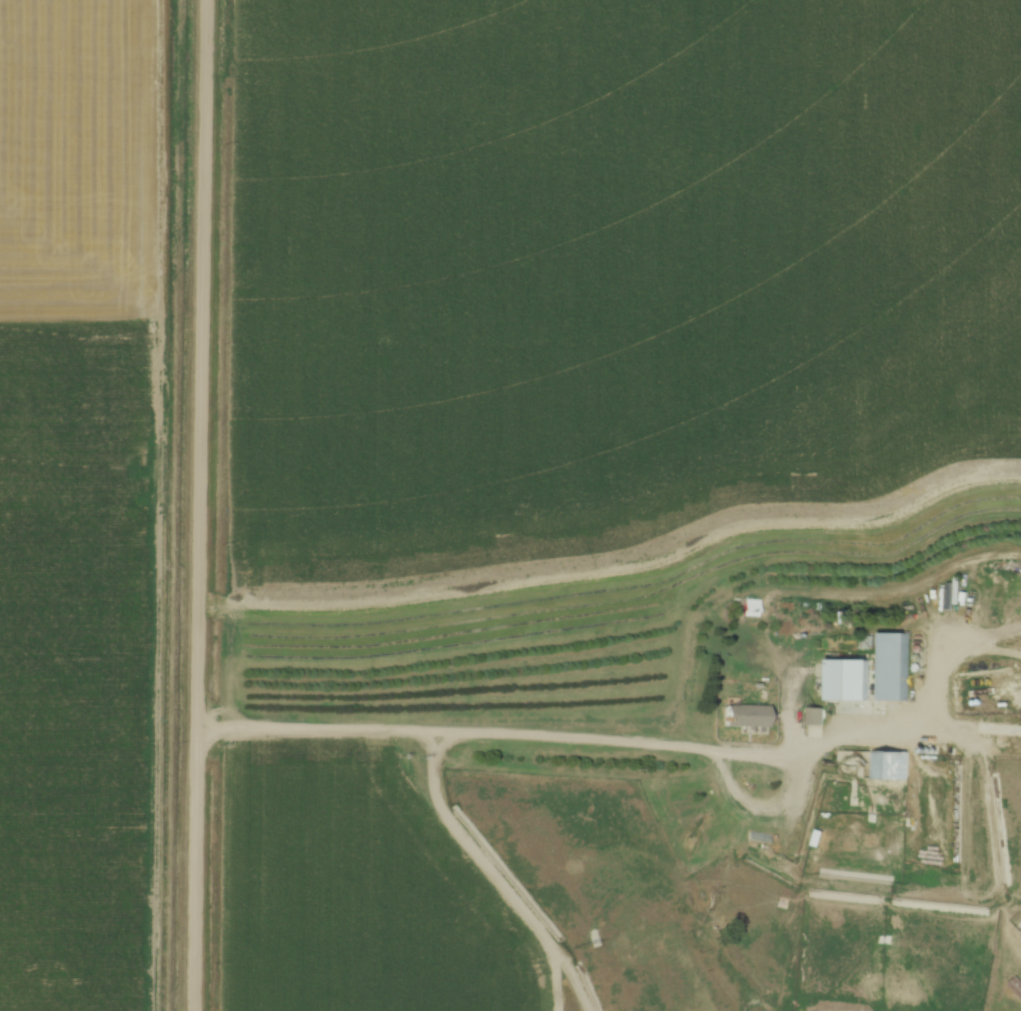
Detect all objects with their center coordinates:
building: (9, 370)
road: (201, 505)
building: (891, 666)
building: (849, 679)
building: (748, 716)
building: (815, 716)
road: (465, 728)
building: (890, 765)
road: (802, 776)
building: (1015, 986)

